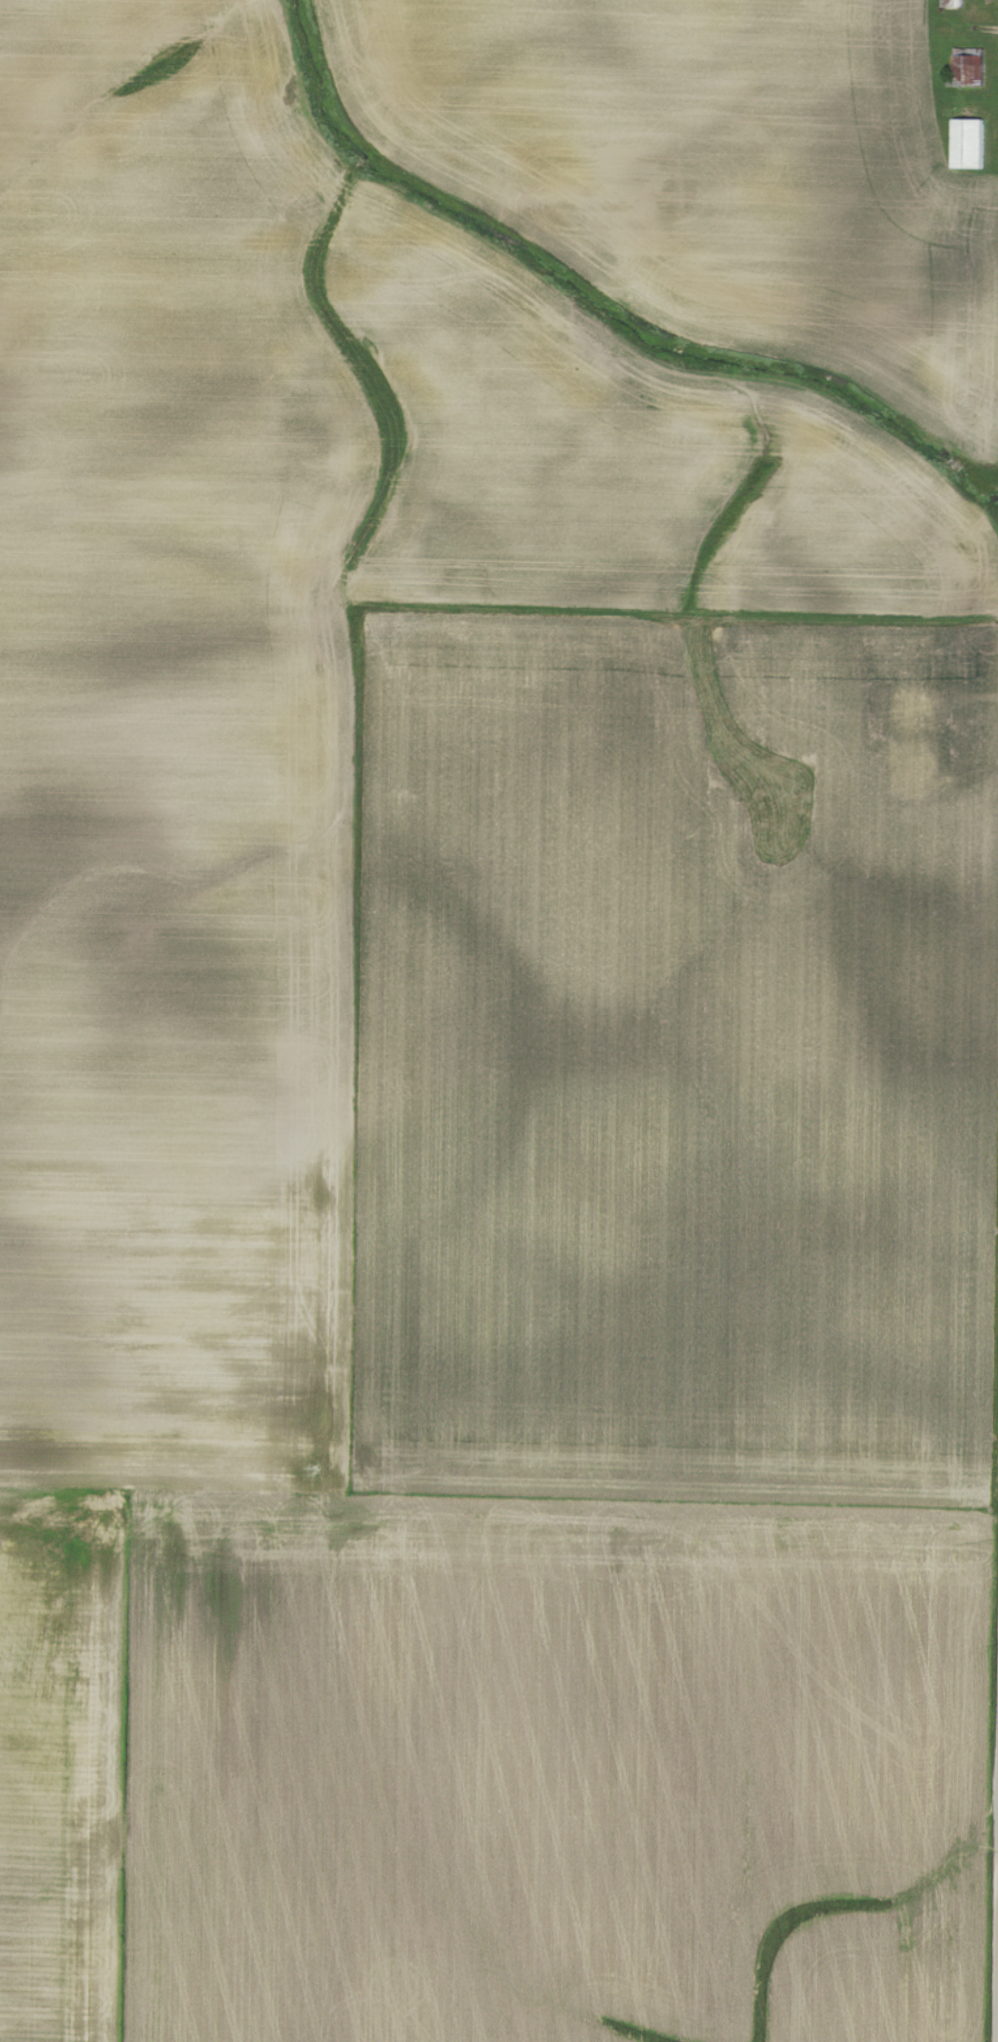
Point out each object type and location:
road: (996, 1938)

